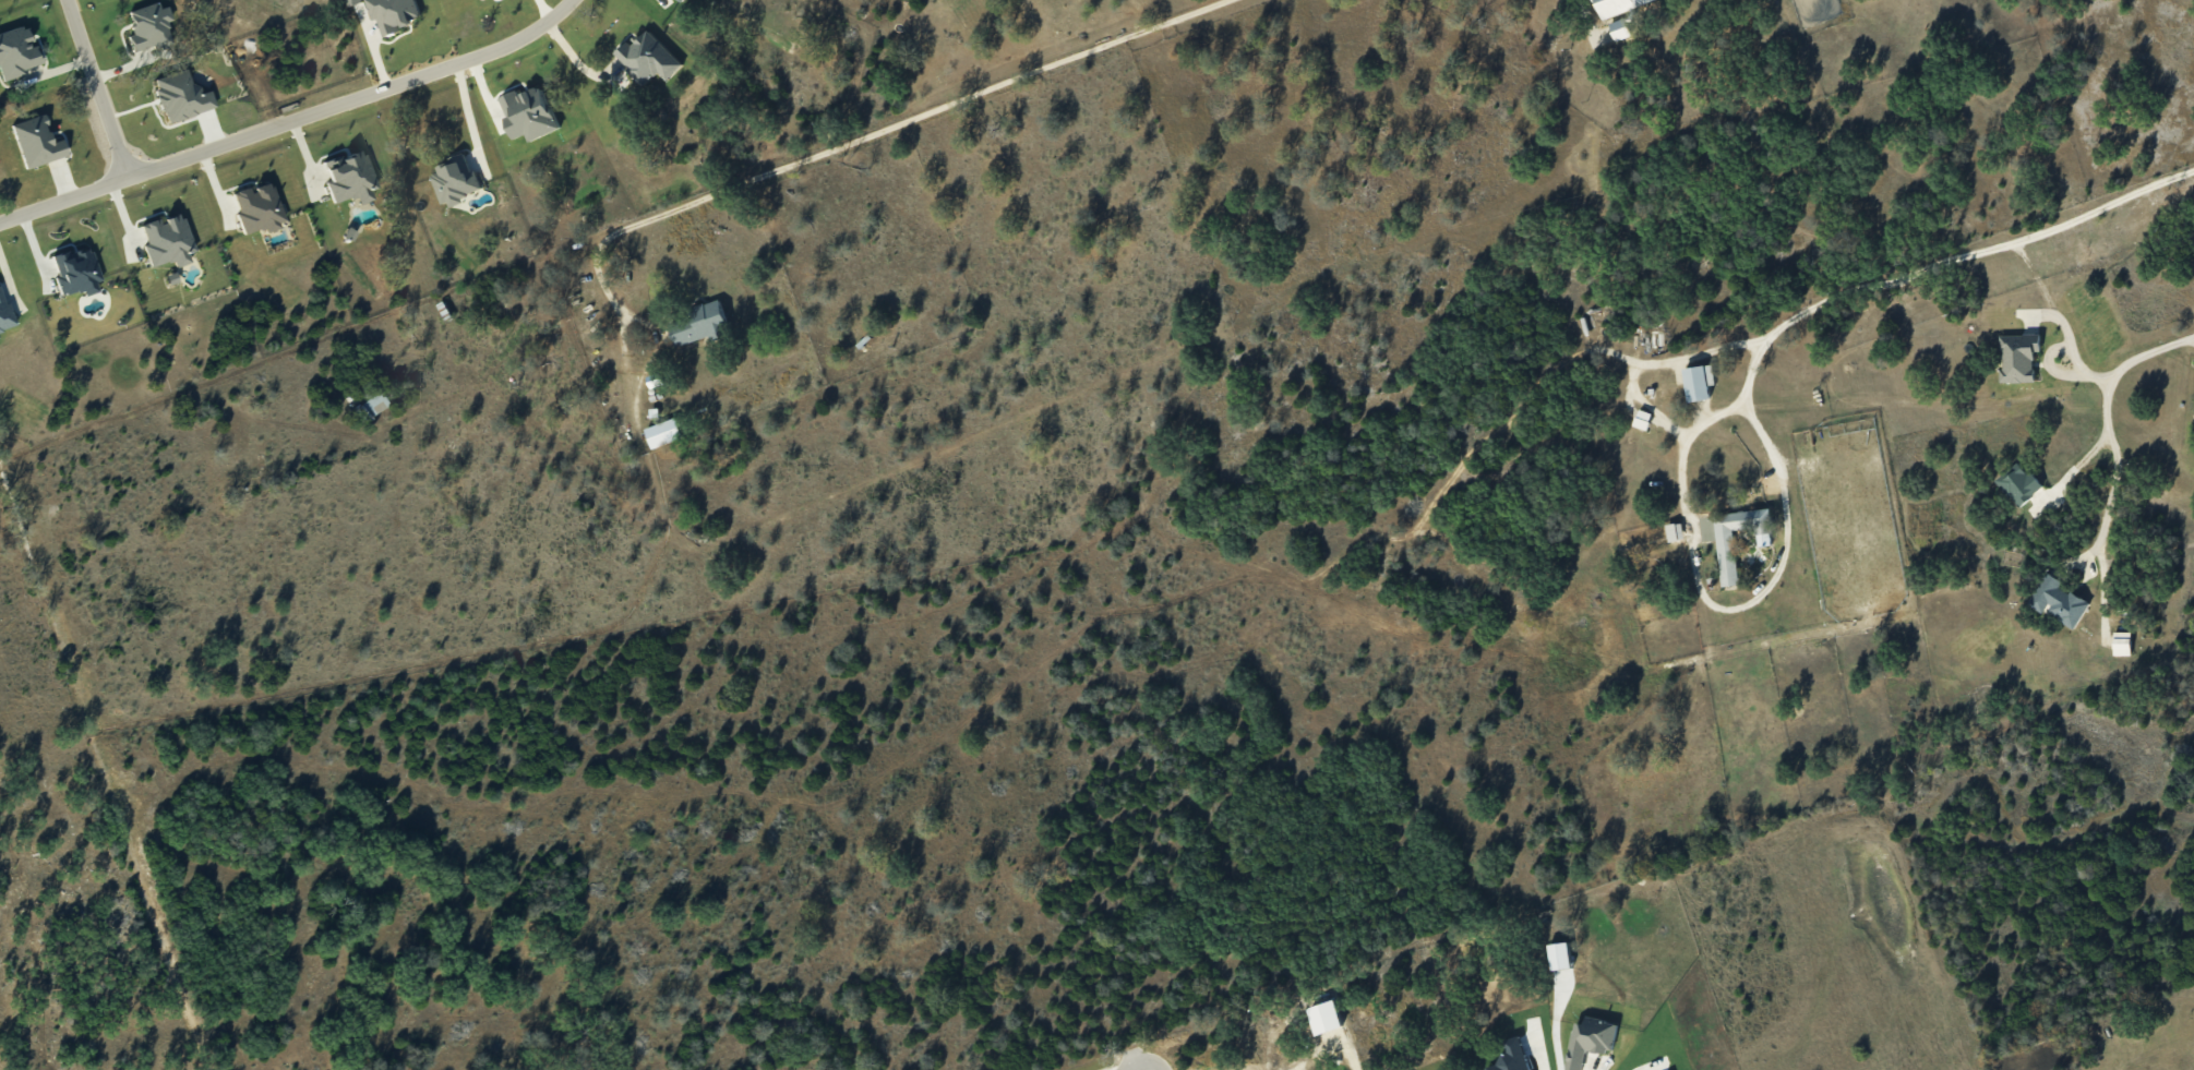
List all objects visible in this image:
building: (353, 1)
building: (683, 1)
building: (1617, 5)
building: (393, 14)
building: (148, 26)
building: (1620, 28)
building: (16, 52)
building: (644, 57)
road: (577, 61)
road: (96, 88)
building: (528, 113)
road: (467, 115)
road: (923, 116)
road: (291, 121)
building: (36, 141)
building: (349, 177)
building: (454, 181)
building: (257, 207)
building: (167, 240)
road: (1940, 260)
building: (76, 270)
road: (600, 282)
building: (4, 314)
building: (699, 325)
building: (2017, 357)
road: (2075, 359)
building: (1698, 382)
building: (373, 405)
building: (663, 433)
road: (2114, 476)
building: (2017, 483)
building: (1674, 531)
building: (1726, 560)
road: (1697, 589)
building: (2062, 601)
building: (2122, 642)
road: (1556, 1022)
road: (1540, 1044)
road: (1644, 1063)

